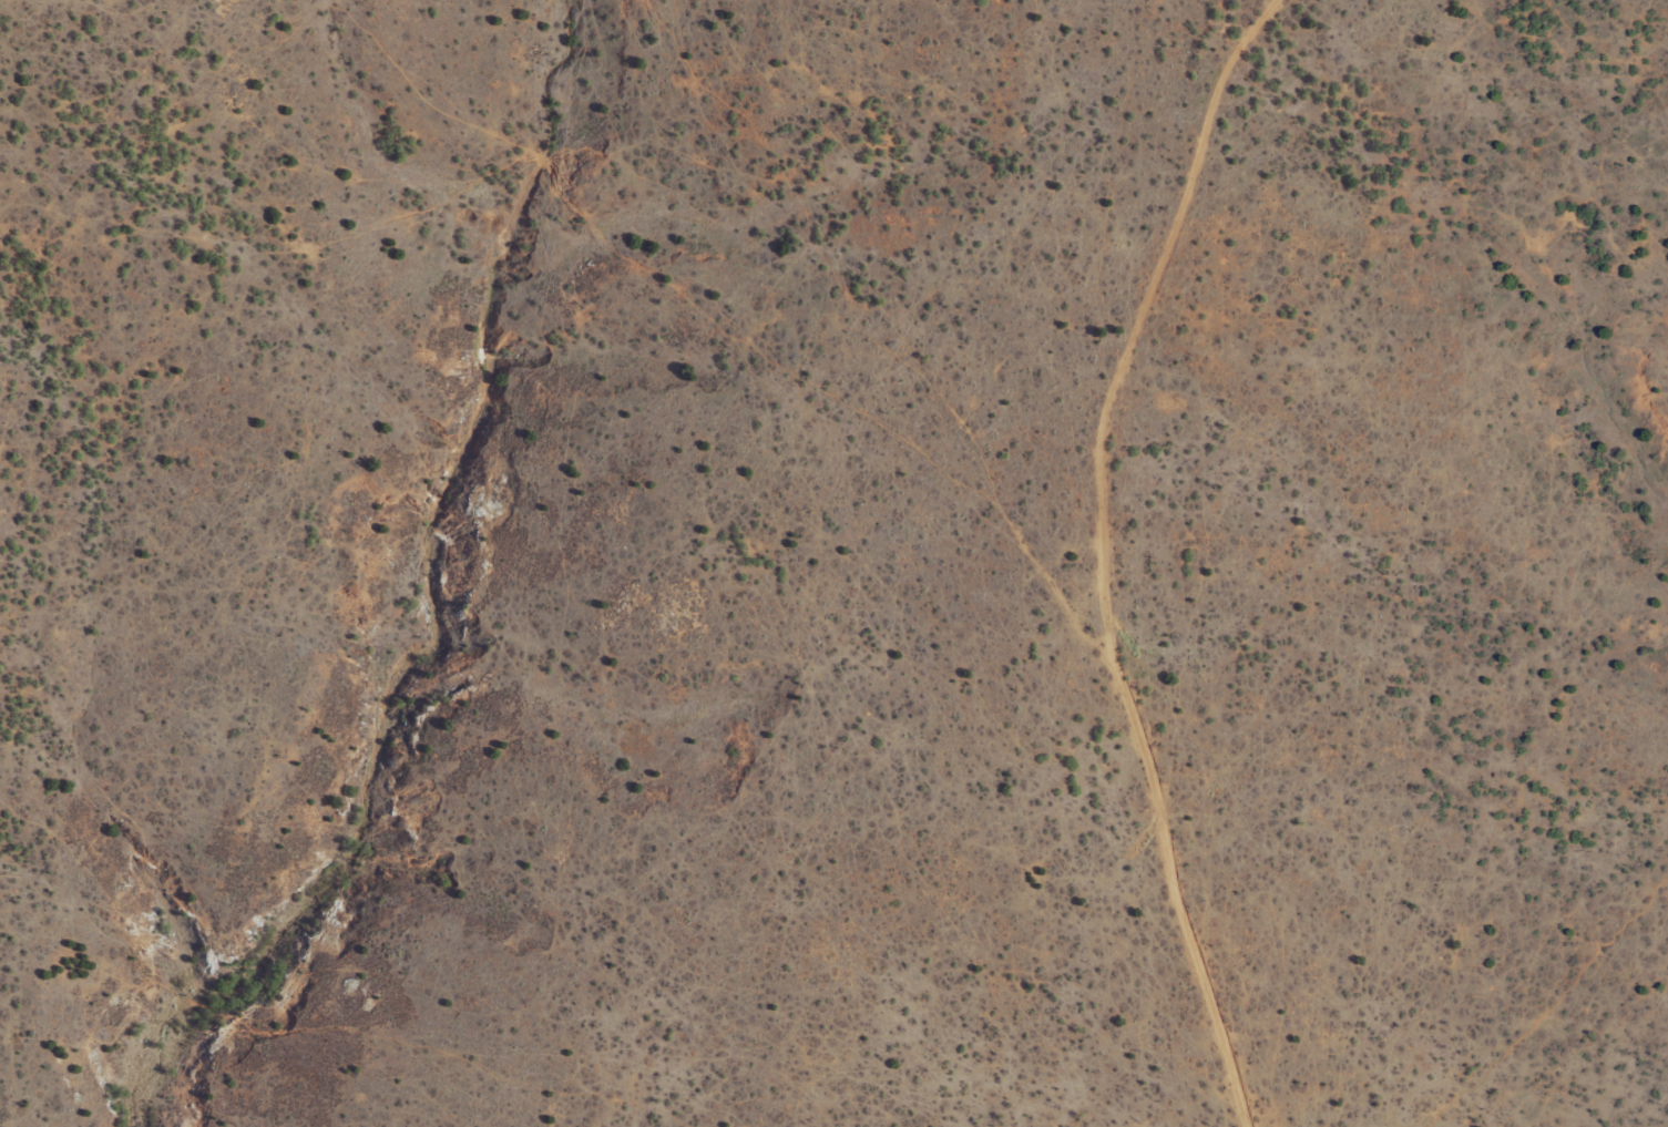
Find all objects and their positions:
road: (1095, 547)

